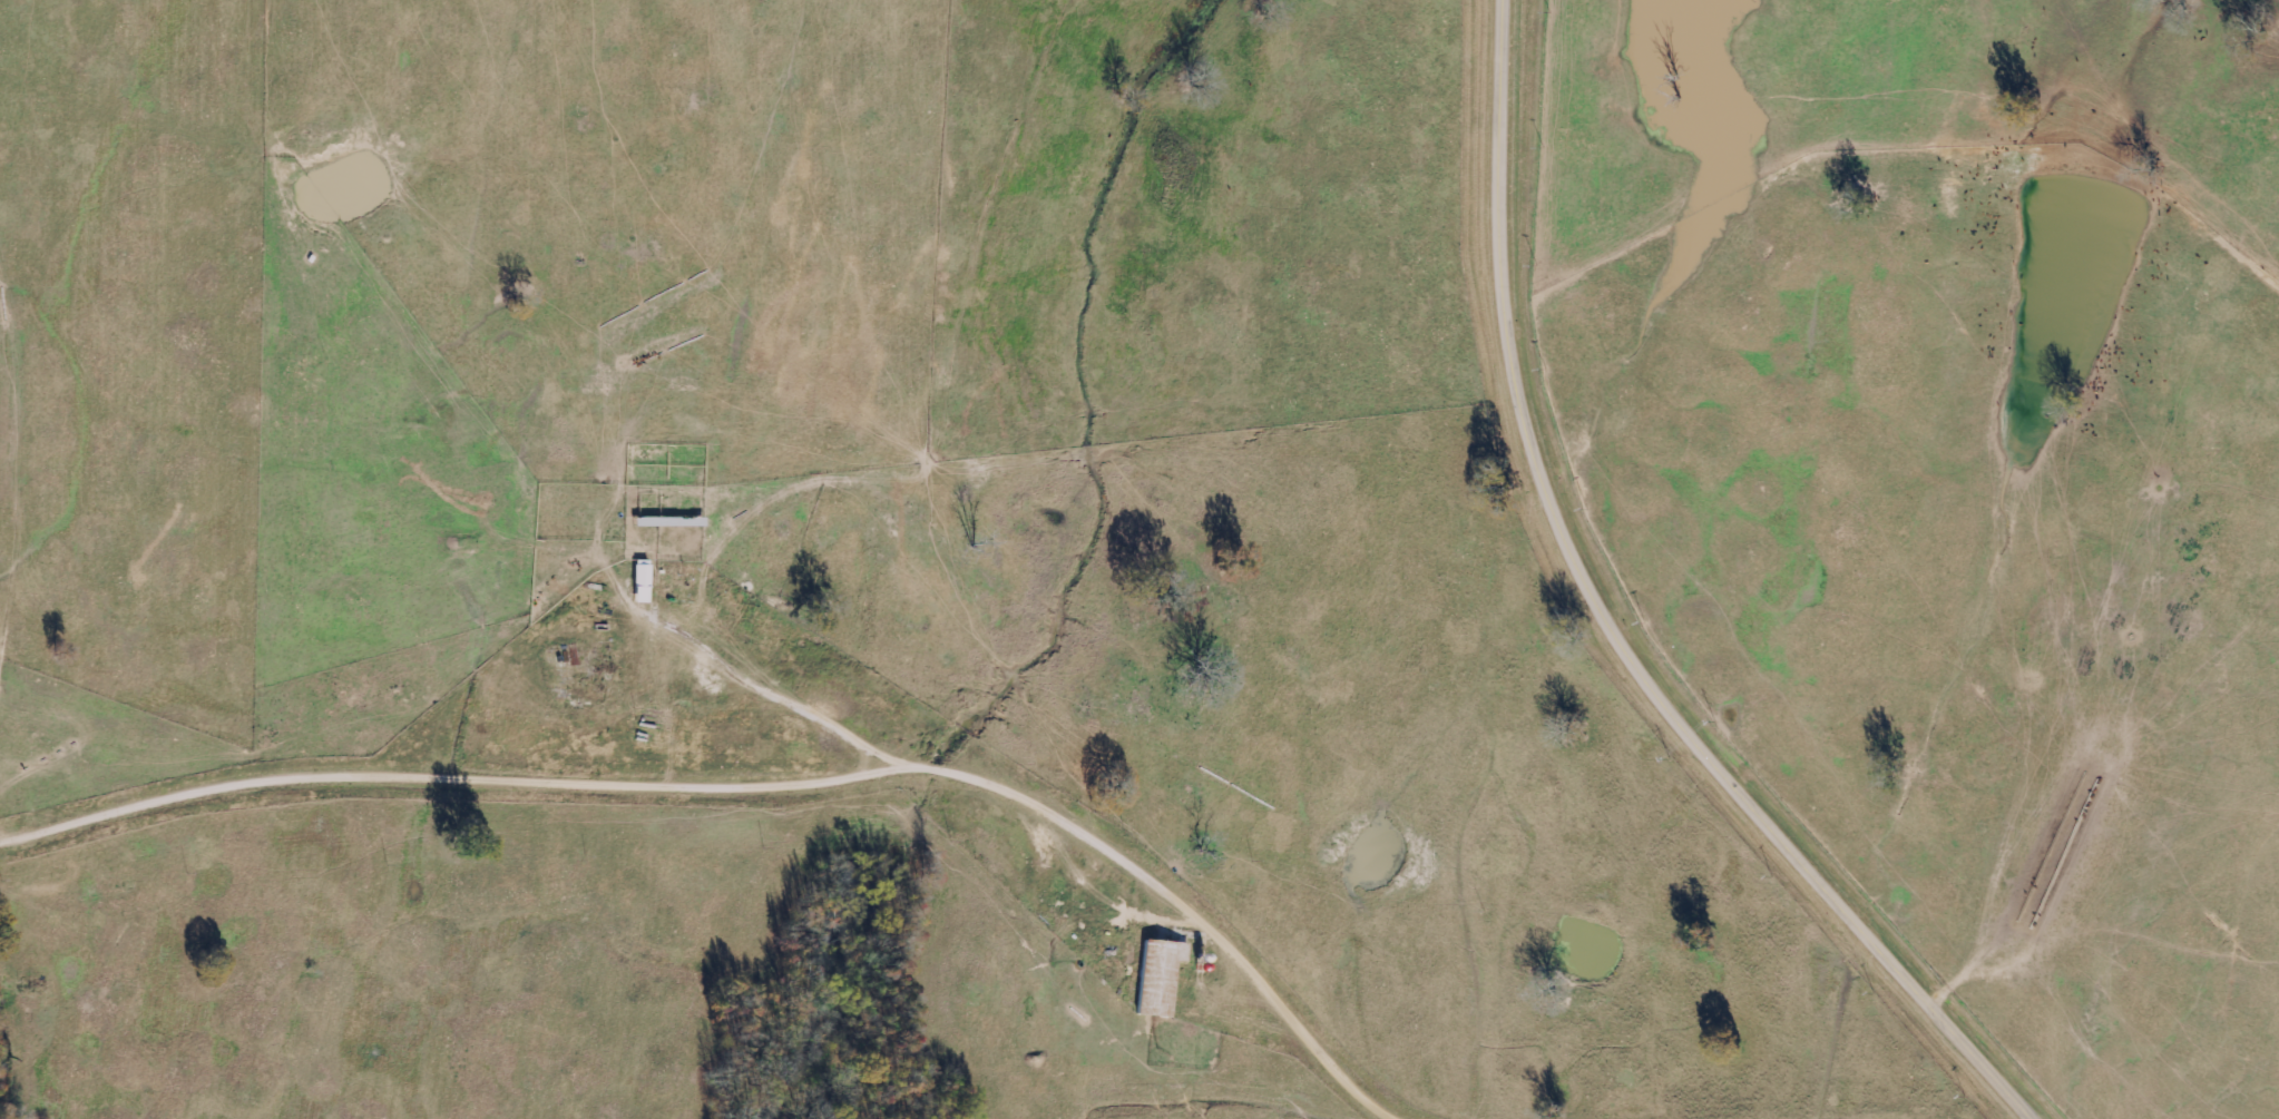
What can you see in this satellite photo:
road: (1611, 625)
road: (759, 788)
road: (1860, 934)
building: (1160, 976)

